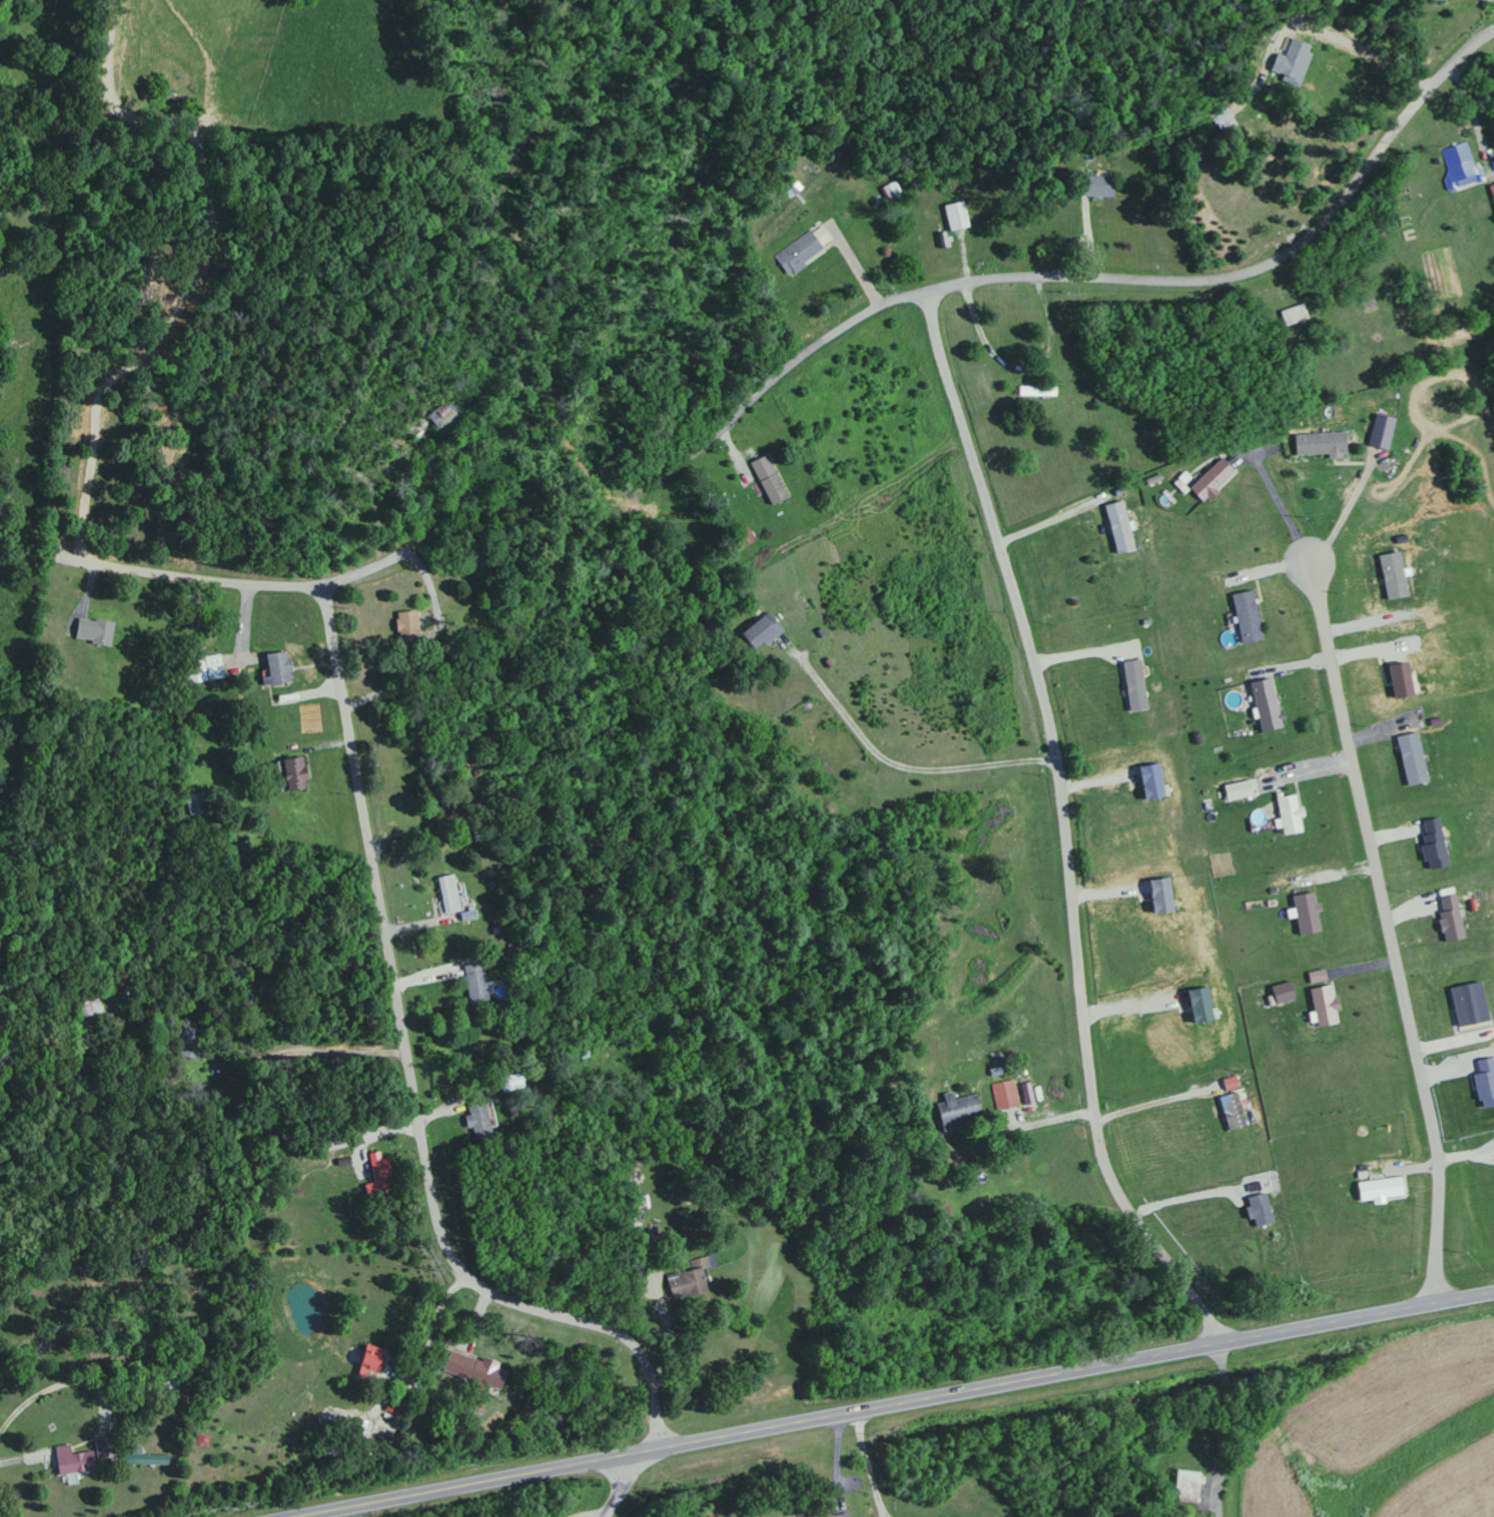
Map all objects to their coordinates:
road: (1375, 53)
building: (1290, 61)
building: (1223, 120)
building: (1462, 166)
building: (1097, 186)
building: (1492, 190)
building: (892, 191)
building: (957, 215)
building: (804, 248)
road: (1113, 280)
building: (1294, 314)
road: (1024, 367)
building: (447, 414)
building: (1380, 431)
building: (1320, 444)
building: (767, 479)
building: (1210, 480)
road: (1282, 508)
road: (1342, 517)
road: (1047, 521)
building: (1117, 527)
building: (742, 538)
building: (1391, 574)
road: (238, 584)
building: (1244, 616)
building: (406, 624)
building: (93, 630)
building: (761, 630)
road: (425, 646)
building: (207, 668)
building: (275, 669)
building: (1397, 680)
building: (1132, 685)
building: (1263, 704)
building: (1410, 758)
road: (902, 766)
building: (289, 774)
building: (1147, 781)
building: (1237, 790)
building: (1289, 814)
road: (1067, 828)
building: (1432, 844)
building: (450, 893)
building: (1157, 896)
building: (1303, 913)
building: (1448, 919)
road: (1391, 931)
building: (1316, 976)
building: (475, 981)
building: (1280, 993)
building: (1467, 1004)
building: (1195, 1005)
building: (1322, 1005)
road: (414, 1078)
building: (1229, 1083)
building: (1484, 1083)
building: (1026, 1093)
building: (1006, 1095)
road: (1154, 1099)
building: (956, 1111)
building: (1231, 1111)
building: (479, 1120)
building: (378, 1163)
building: (1378, 1190)
road: (1186, 1198)
building: (1257, 1210)
building: (368, 1358)
building: (471, 1369)
road: (60, 1384)
road: (900, 1405)
road: (1222, 1431)
building: (143, 1458)
building: (71, 1460)
road: (869, 1463)
building: (1188, 1486)
road: (620, 1489)
road: (883, 1514)
road: (885, 1514)
building: (829, 1515)

